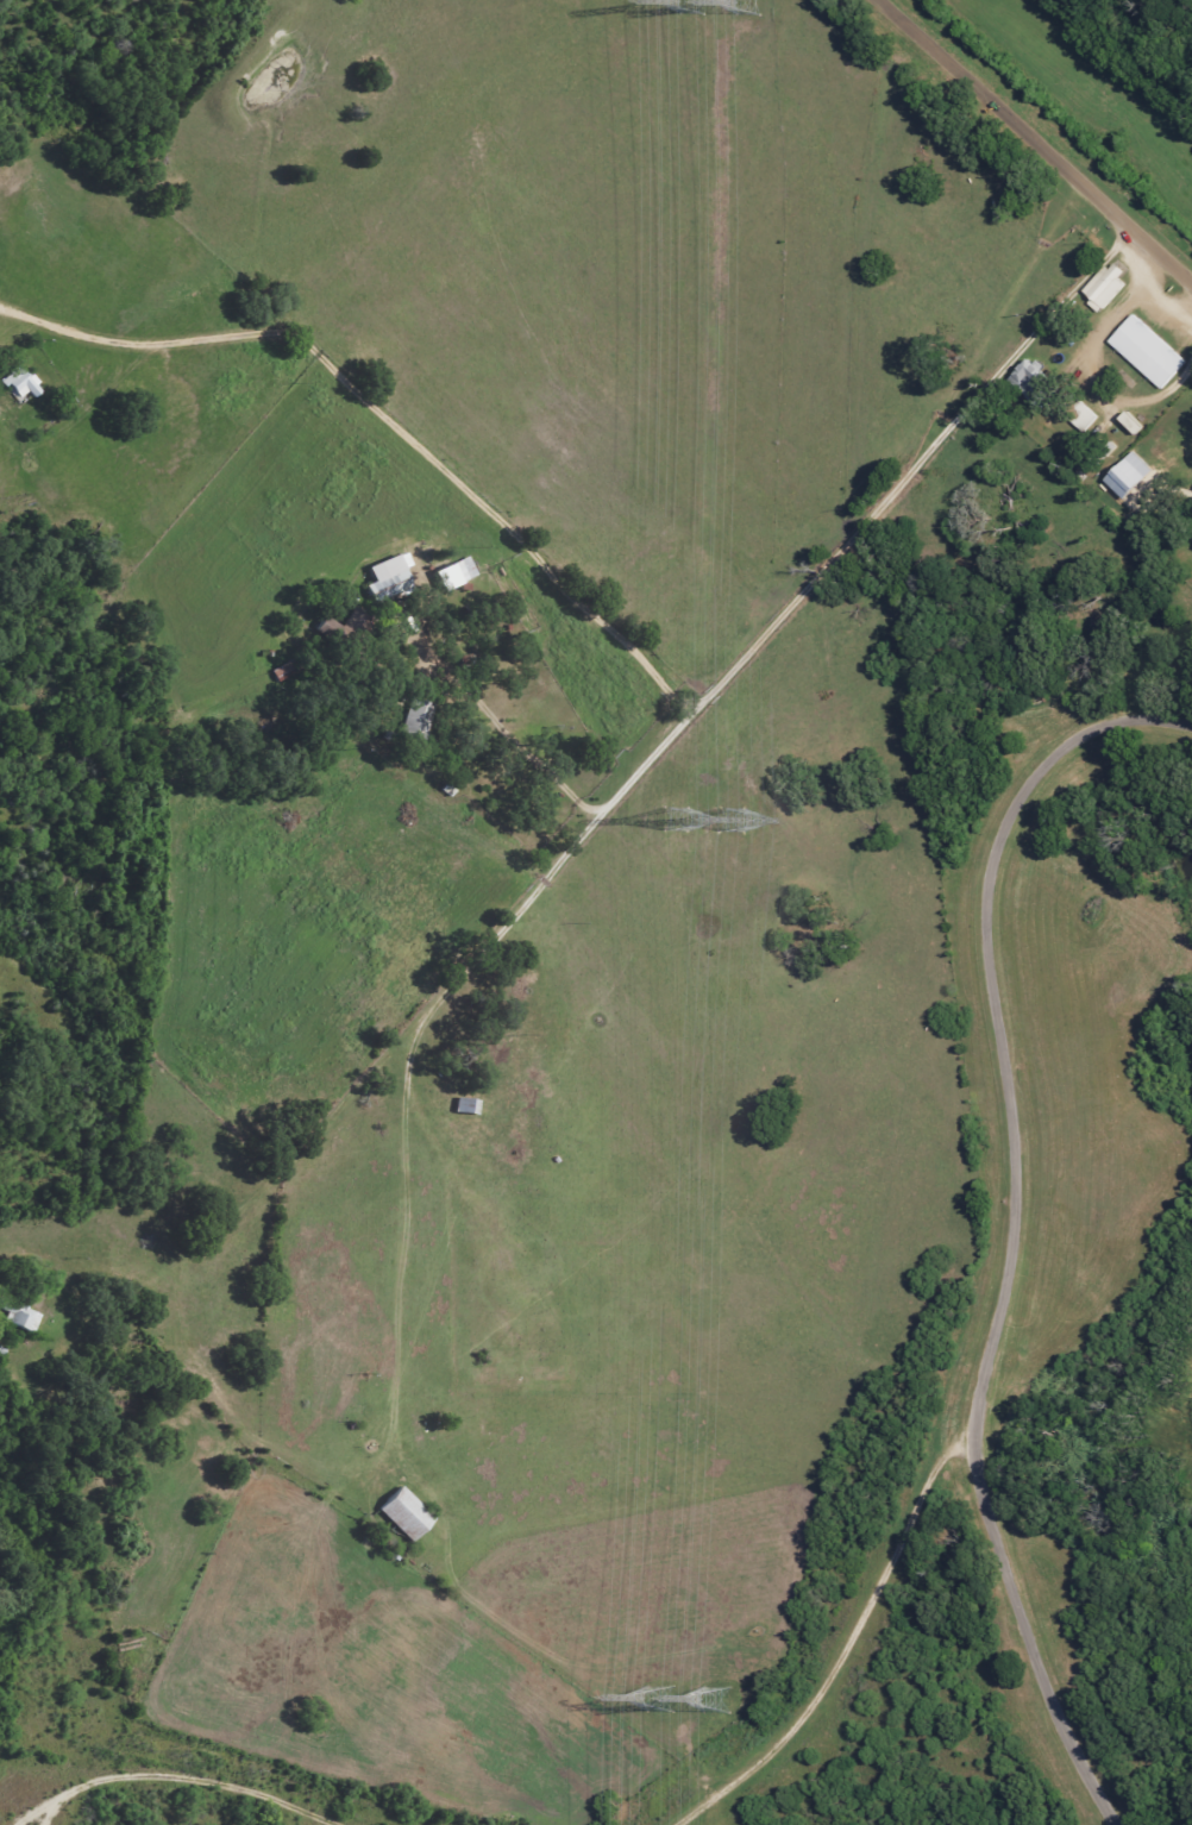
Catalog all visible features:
power tower: (682, 2)
power tower: (741, 4)
road: (1031, 144)
building: (1099, 286)
building: (1140, 351)
building: (1023, 380)
building: (17, 384)
building: (1073, 415)
road: (385, 419)
building: (452, 571)
building: (377, 573)
building: (320, 628)
road: (768, 629)
building: (409, 719)
park: (1173, 791)
power tower: (724, 817)
power tower: (667, 820)
building: (459, 1105)
road: (1015, 1258)
building: (397, 1513)
road: (1018, 1637)
power tower: (651, 1699)
power tower: (708, 1700)
road: (174, 1774)

